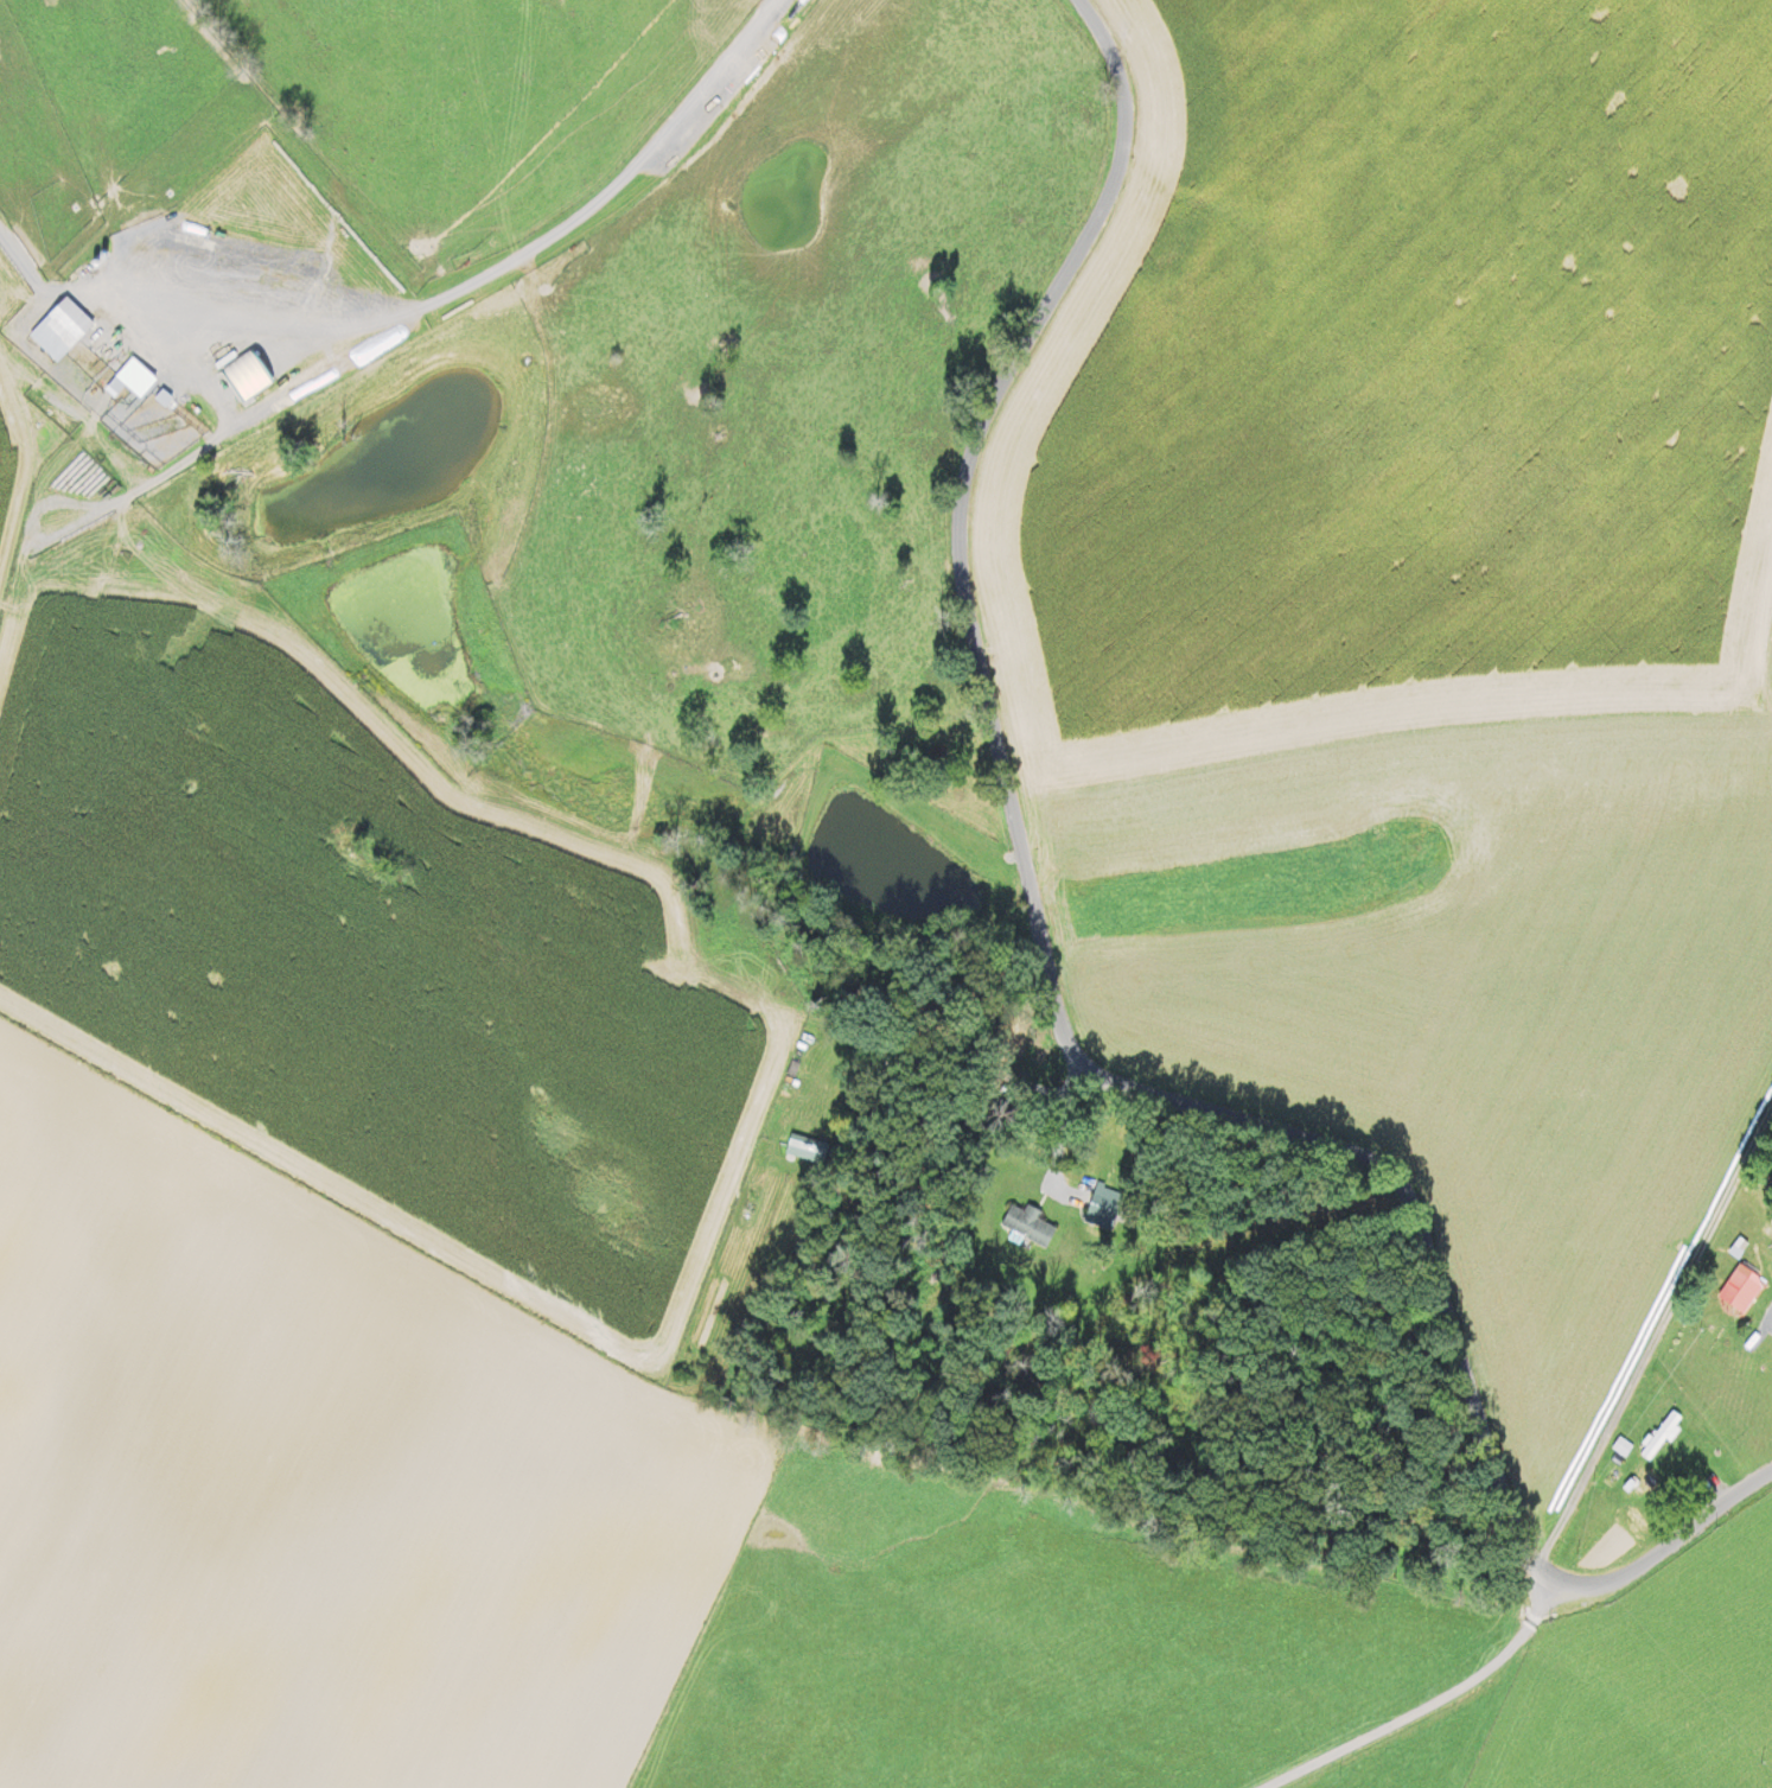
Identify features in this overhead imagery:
building: (59, 330)
road: (1057, 1030)
building: (1103, 1204)
building: (1027, 1226)
building: (1740, 1292)
building: (1659, 1437)
building: (1642, 1482)
road: (1369, 1694)

